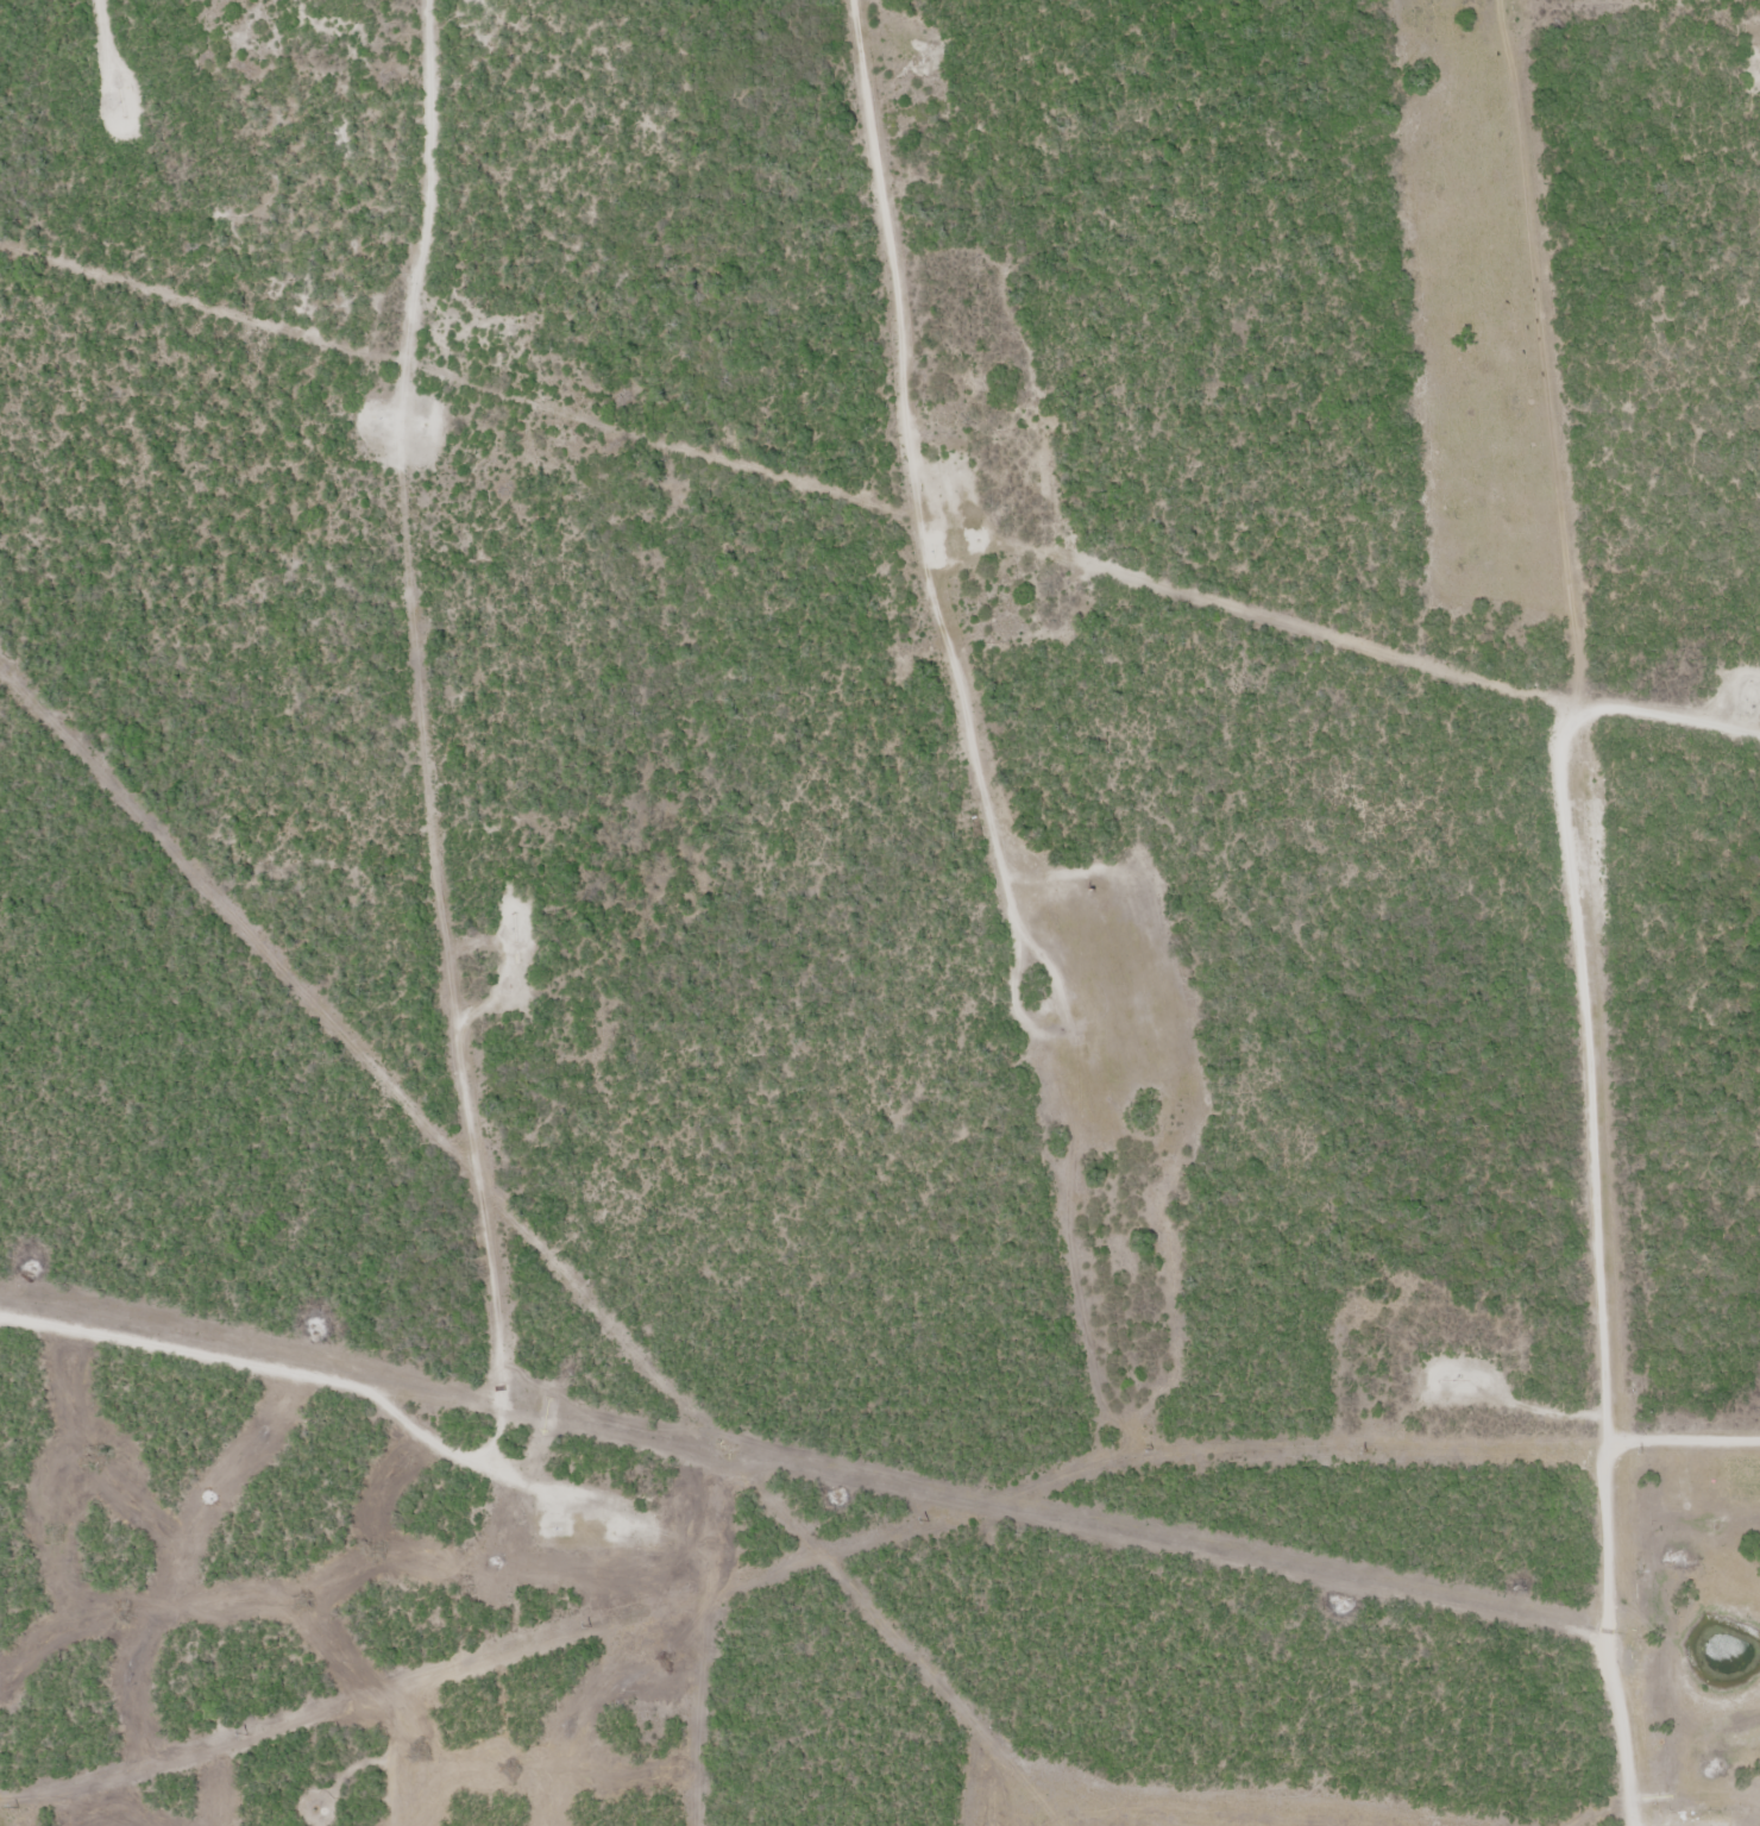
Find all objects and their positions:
road: (1677, 1036)
road: (1682, 1439)
power tower: (1149, 1450)
power tower: (1364, 1451)
power tower: (1639, 1454)
power tower: (924, 1521)
power tower: (586, 1626)
power tower: (243, 1734)
power tower: (14, 1807)

